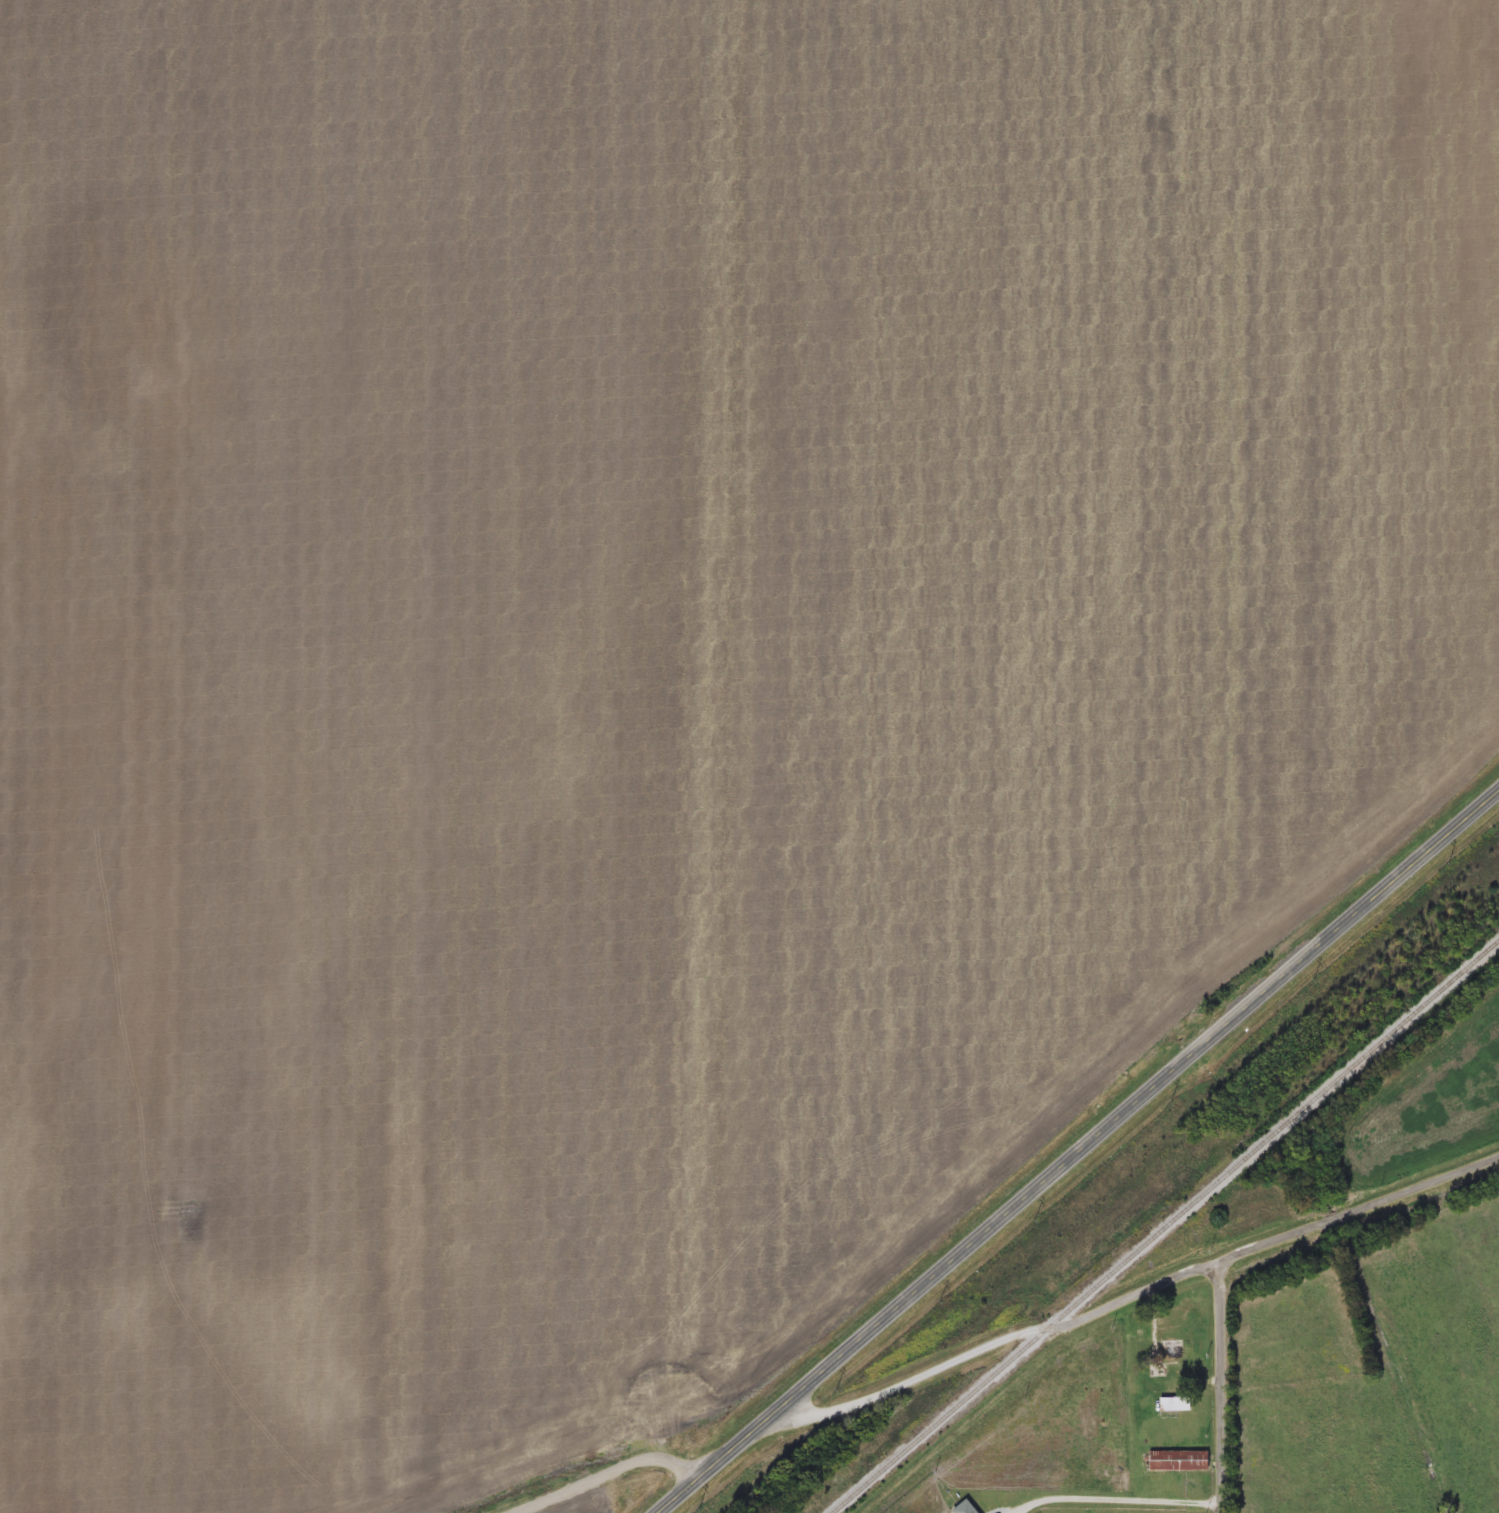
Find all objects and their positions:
road: (1079, 1152)
railway: (1165, 1225)
road: (1138, 1295)
building: (1177, 1352)
road: (1215, 1388)
building: (1174, 1405)
building: (1177, 1462)
road: (599, 1473)
road: (1118, 1505)
building: (962, 1508)

